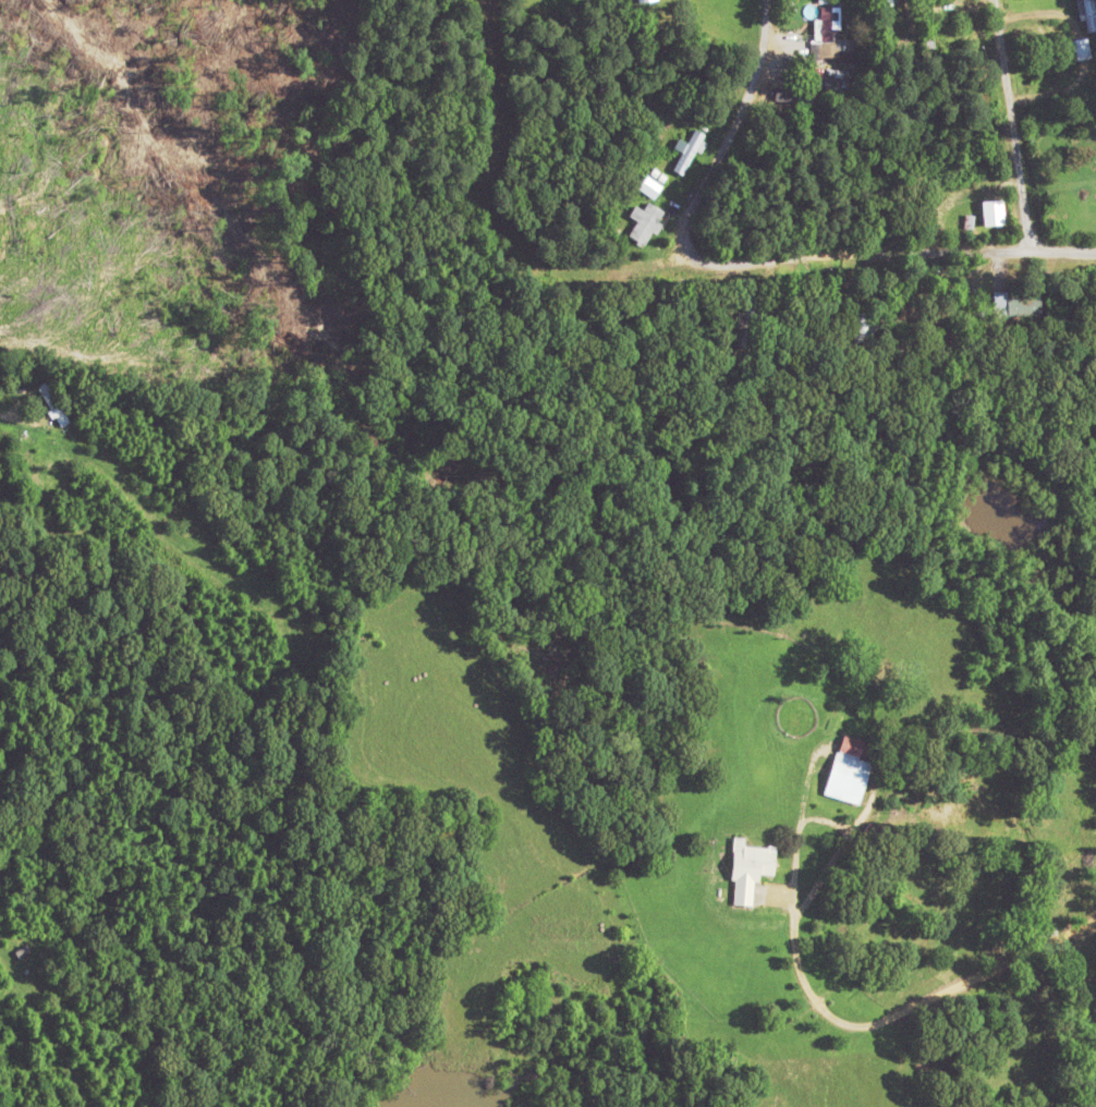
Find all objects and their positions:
building: (1089, 14)
building: (833, 35)
building: (1081, 48)
road: (1008, 125)
building: (689, 149)
building: (650, 185)
building: (645, 222)
road: (757, 261)
building: (743, 284)
building: (1015, 304)
building: (864, 329)
building: (848, 770)
building: (750, 868)
road: (905, 1008)

